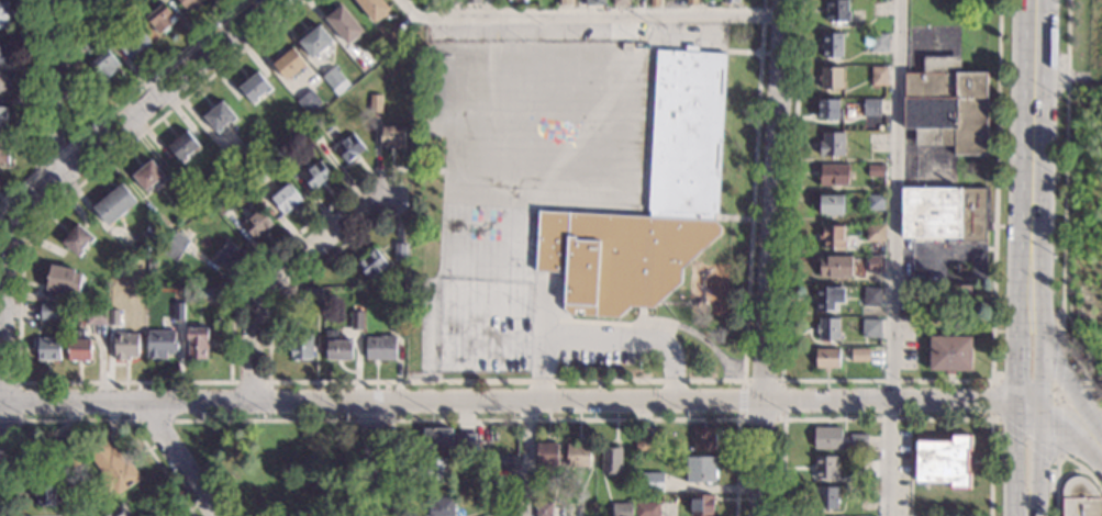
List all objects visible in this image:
building: (728, 1)
building: (454, 2)
building: (471, 2)
building: (564, 2)
building: (580, 2)
building: (594, 2)
building: (620, 2)
building: (654, 2)
building: (690, 2)
building: (188, 3)
road: (293, 3)
building: (372, 8)
building: (835, 12)
building: (4, 15)
road: (590, 15)
building: (160, 18)
building: (345, 24)
building: (389, 35)
building: (131, 40)
building: (314, 41)
building: (876, 42)
building: (91, 45)
building: (831, 46)
building: (3, 52)
road: (743, 52)
building: (288, 63)
building: (104, 65)
building: (878, 77)
building: (830, 79)
building: (334, 81)
building: (3, 83)
road: (162, 88)
building: (255, 88)
building: (309, 102)
building: (375, 103)
building: (945, 106)
building: (872, 109)
building: (828, 110)
road: (34, 113)
road: (103, 115)
building: (218, 116)
building: (4, 117)
building: (871, 121)
building: (311, 132)
building: (687, 132)
building: (391, 136)
building: (831, 145)
building: (182, 146)
building: (349, 148)
building: (3, 153)
building: (279, 156)
road: (53, 157)
road: (426, 170)
building: (876, 171)
building: (147, 176)
building: (315, 176)
building: (832, 176)
building: (254, 177)
building: (285, 199)
road: (36, 201)
building: (873, 203)
building: (114, 204)
building: (194, 205)
building: (221, 205)
road: (1031, 205)
building: (830, 206)
road: (1064, 206)
building: (946, 214)
road: (732, 218)
building: (256, 224)
building: (873, 234)
building: (830, 238)
building: (77, 240)
building: (178, 243)
building: (399, 251)
building: (227, 256)
road: (770, 257)
road: (893, 258)
building: (371, 263)
building: (873, 266)
building: (834, 267)
road: (280, 277)
building: (64, 281)
building: (912, 291)
building: (311, 293)
building: (204, 296)
building: (827, 298)
building: (870, 298)
building: (959, 298)
building: (47, 312)
building: (177, 312)
building: (96, 315)
road: (641, 316)
building: (113, 317)
building: (355, 321)
building: (396, 322)
road: (660, 324)
building: (871, 328)
building: (826, 329)
road: (420, 335)
road: (606, 336)
building: (160, 344)
building: (196, 344)
building: (78, 347)
building: (125, 347)
building: (300, 347)
building: (336, 347)
building: (380, 348)
building: (47, 349)
building: (949, 355)
building: (859, 357)
building: (825, 360)
road: (1058, 362)
road: (884, 381)
road: (581, 382)
road: (22, 383)
road: (249, 383)
road: (781, 384)
road: (1070, 385)
road: (515, 400)
road: (990, 400)
road: (18, 402)
road: (0, 403)
road: (0, 412)
road: (389, 417)
road: (561, 419)
road: (886, 419)
road: (82, 422)
road: (131, 422)
road: (265, 422)
road: (1057, 431)
road: (1064, 434)
building: (702, 439)
building: (836, 439)
building: (445, 440)
building: (642, 445)
building: (71, 449)
building: (546, 455)
building: (577, 455)
park: (279, 456)
road: (380, 457)
road: (1059, 457)
road: (526, 458)
road: (180, 460)
building: (610, 460)
building: (503, 462)
building: (943, 462)
road: (1026, 464)
building: (111, 467)
building: (435, 468)
building: (824, 468)
building: (700, 470)
building: (650, 483)
building: (865, 493)
building: (52, 497)
building: (1080, 498)
building: (825, 500)
building: (439, 506)
building: (700, 506)
building: (542, 509)
building: (646, 509)
building: (621, 511)
building: (119, 513)
building: (510, 515)

